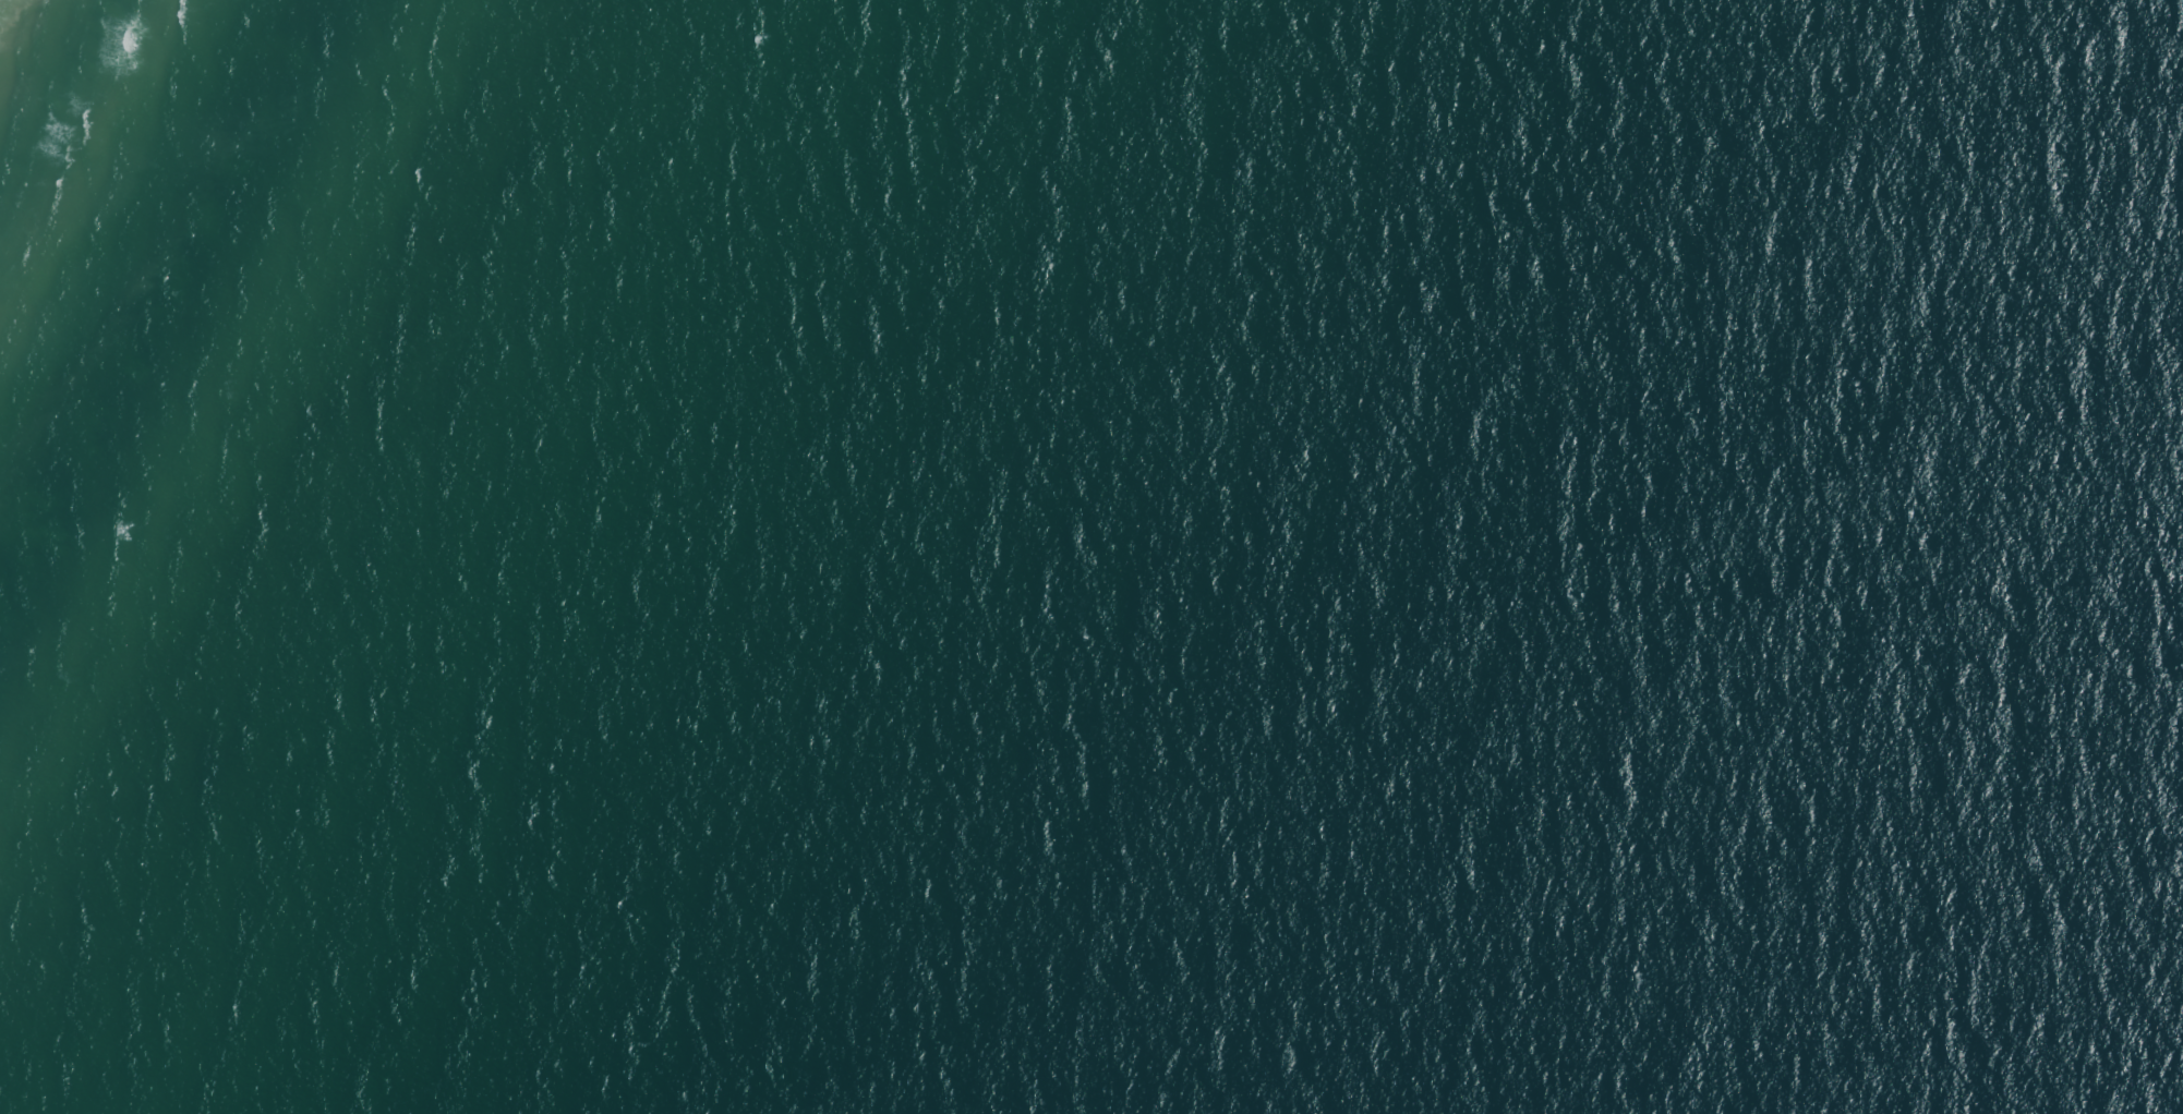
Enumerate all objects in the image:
park: (53, 109)

